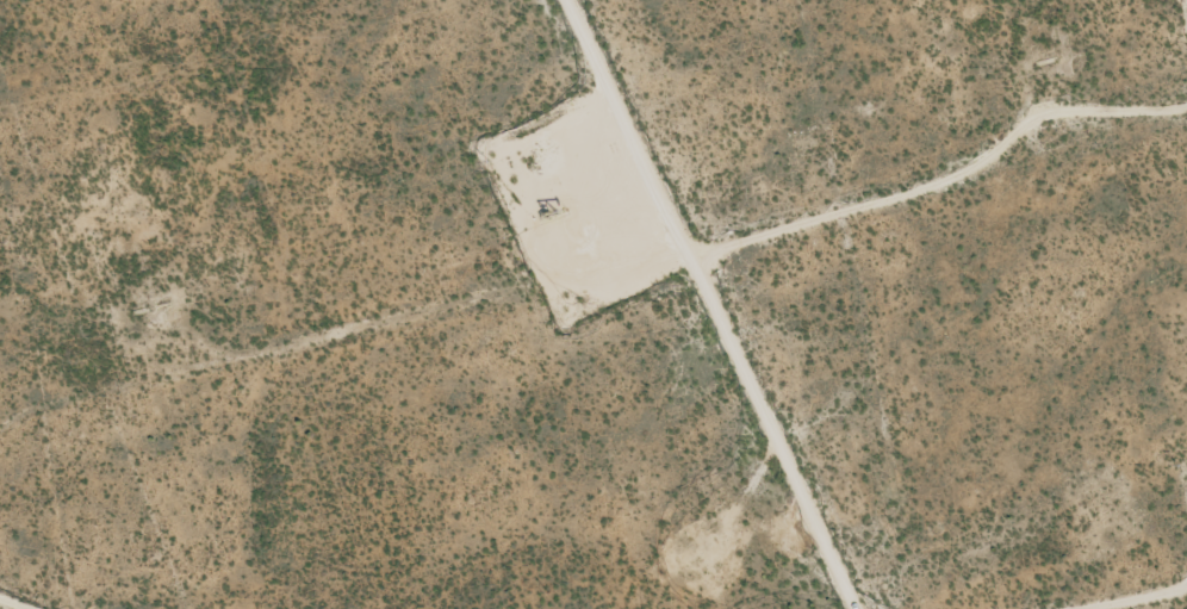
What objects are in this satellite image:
road: (733, 304)
road: (23, 599)

